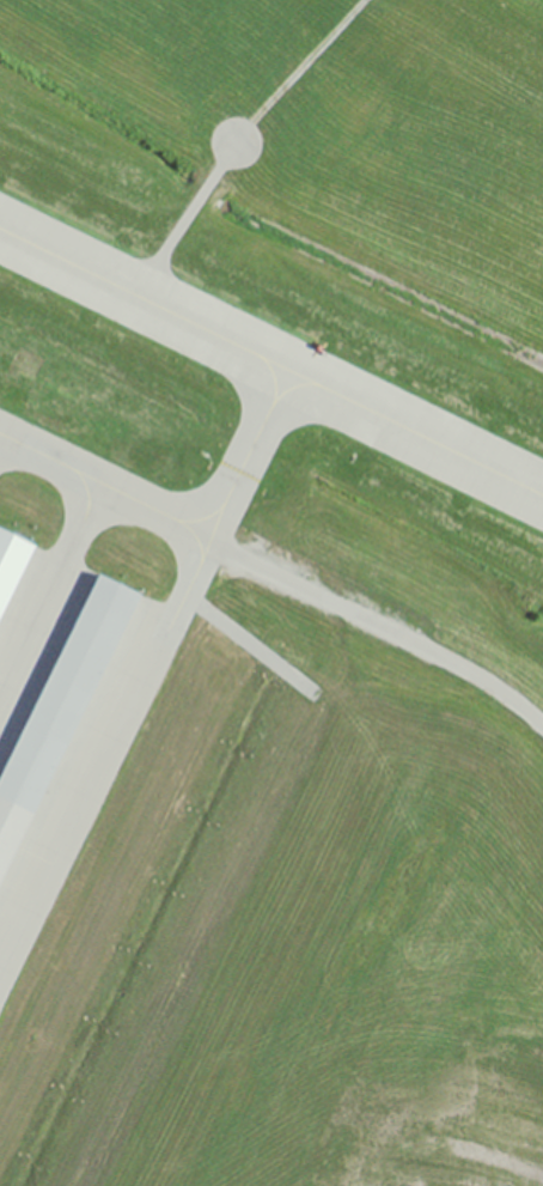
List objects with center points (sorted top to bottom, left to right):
road: (298, 69)
road: (187, 217)
airport taxiway: (270, 359)
airport taxiway: (273, 373)
airport taxiway: (292, 384)
airport taxiway: (248, 450)
airport taxiway: (87, 486)
airport taxiway: (203, 516)
airport taxiway: (196, 534)
airport hangar: (12, 560)
building: (12, 560)
airport taxiway: (50, 584)
airport: (271, 592)
road: (380, 625)
road: (251, 643)
airport taxiway: (158, 647)
airport hangar: (60, 706)
building: (60, 706)

